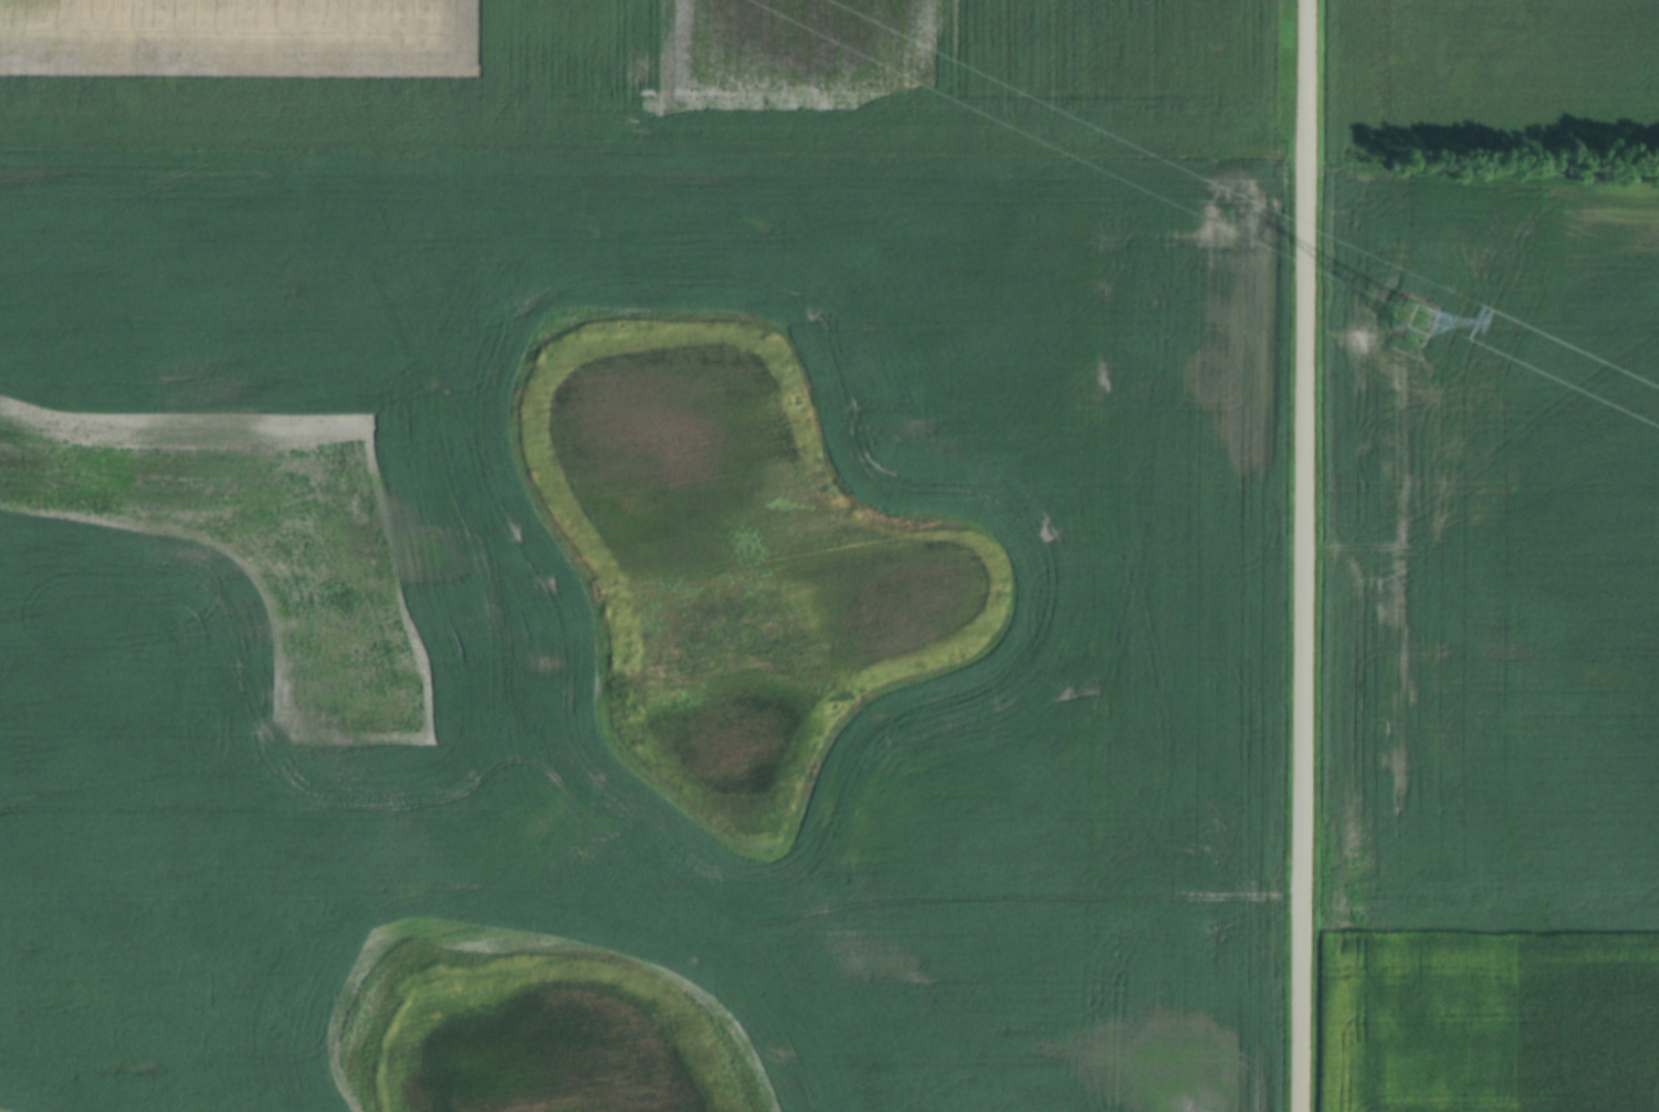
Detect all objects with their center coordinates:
power tower: (1414, 319)
road: (1308, 556)

